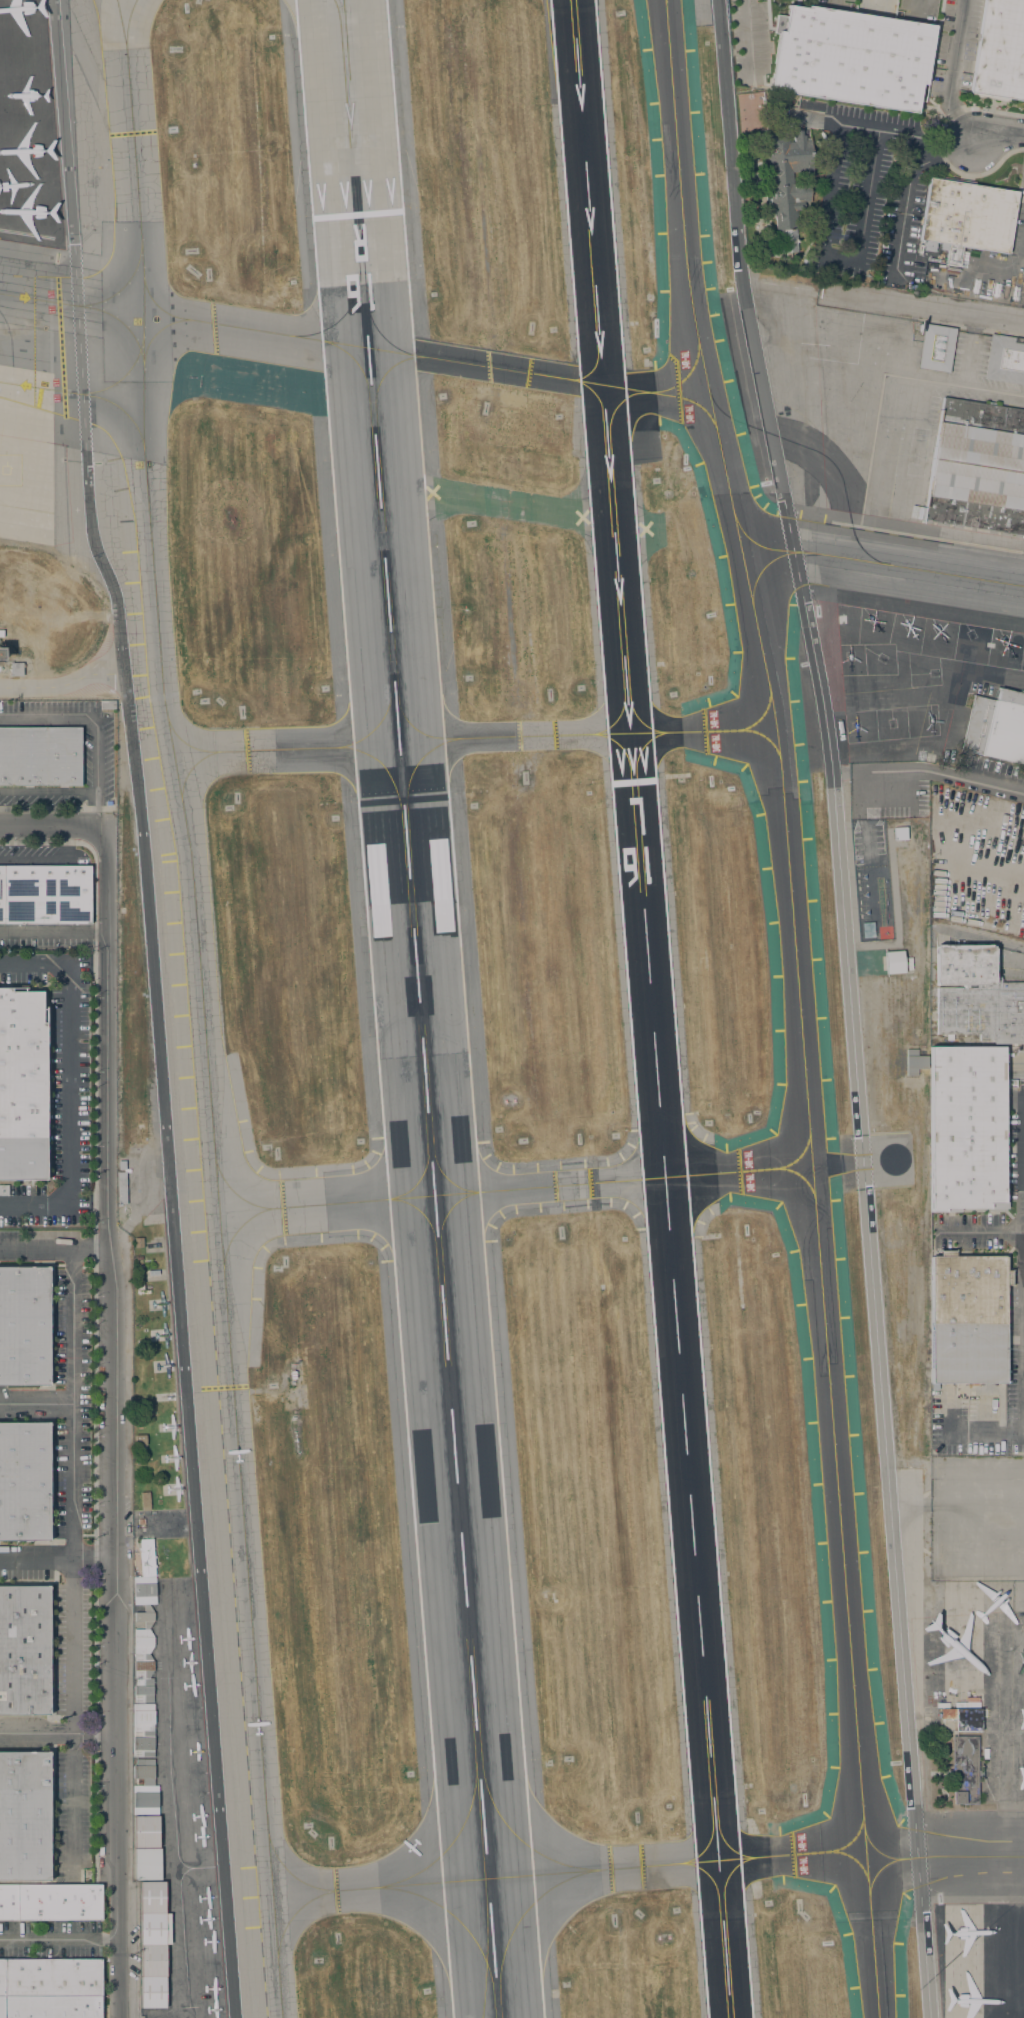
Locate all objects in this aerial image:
airport taxiway: (336, 13)
airport taxiway: (128, 25)
airport taxiway: (119, 26)
road: (744, 38)
building: (999, 52)
building: (851, 57)
road: (951, 76)
road: (989, 109)
road: (998, 134)
building: (787, 184)
building: (762, 201)
building: (966, 218)
airport taxiway: (119, 287)
airport taxiway: (156, 306)
airport taxiway: (348, 307)
airport taxiway: (83, 308)
road: (924, 309)
airport taxiway: (372, 325)
airport taxiway: (155, 332)
airport taxiway: (276, 333)
building: (936, 348)
airport taxiway: (595, 356)
building: (1005, 360)
airport taxiway: (358, 369)
airport taxiway: (603, 369)
airport taxiway: (549, 376)
airport taxiway: (685, 376)
airport taxiway: (379, 378)
airport taxiway: (69, 393)
airport taxiway: (597, 395)
airport taxiway: (623, 422)
airport hangar: (977, 468)
building: (977, 468)
helipad: (7, 474)
airport taxiway: (25, 513)
airport apron: (908, 528)
airport taxiway: (868, 561)
airport taxiway: (772, 572)
helipad: (841, 620)
helipad: (873, 626)
helipad: (905, 630)
helipad: (943, 635)
helipad: (989, 647)
building: (0, 654)
helipad: (881, 661)
helipad: (849, 663)
building: (16, 669)
helipad: (933, 675)
road: (63, 686)
building: (107, 705)
airport taxiway: (755, 714)
airport taxiway: (783, 717)
airport taxiway: (635, 719)
helipad: (930, 721)
airport taxiway: (414, 725)
helipad: (892, 725)
road: (95, 727)
building: (996, 727)
helipad: (857, 728)
airport taxiway: (369, 730)
airport taxiway: (728, 730)
airport taxiway: (515, 738)
airport taxiway: (763, 741)
airport taxiway: (790, 743)
airport taxiway: (187, 747)
airport taxiway: (623, 748)
airport taxiway: (286, 750)
building: (40, 756)
road: (900, 770)
parking lot: (904, 802)
road: (57, 811)
road: (53, 827)
building: (898, 834)
parking lot: (867, 844)
road: (39, 863)
road: (870, 887)
building: (44, 894)
road: (894, 920)
road: (53, 937)
road: (980, 939)
building: (893, 963)
road: (53, 965)
parking lot: (23, 970)
building: (976, 996)
airport taxiway: (799, 1005)
road: (848, 1005)
road: (155, 1006)
airport runway: (418, 1008)
airport runway: (650, 1008)
airport: (514, 1009)
airport taxiway: (202, 1034)
building: (22, 1085)
parking lot: (68, 1086)
road: (69, 1086)
building: (966, 1129)
airport taxiway: (791, 1150)
road: (1023, 1156)
airport taxiway: (657, 1161)
airport taxiway: (670, 1164)
building: (121, 1165)
airport taxiway: (746, 1172)
airport taxiway: (444, 1177)
airport taxiway: (420, 1180)
airport taxiway: (548, 1187)
airport taxiway: (675, 1187)
building: (121, 1188)
airport taxiway: (656, 1189)
building: (4, 1190)
airport taxiway: (236, 1197)
airport taxiway: (353, 1203)
road: (52, 1206)
airport taxiway: (449, 1209)
airport taxiway: (419, 1211)
airport taxiway: (237, 1224)
road: (1014, 1231)
road: (975, 1232)
building: (139, 1243)
road: (54, 1249)
building: (139, 1258)
building: (139, 1268)
building: (140, 1287)
road: (94, 1317)
building: (967, 1319)
building: (24, 1326)
building: (140, 1345)
building: (142, 1354)
road: (1023, 1398)
road: (36, 1406)
road: (983, 1418)
building: (139, 1421)
road: (114, 1425)
building: (140, 1439)
building: (24, 1481)
building: (145, 1501)
building: (140, 1521)
road: (57, 1559)
road: (73, 1561)
road: (1022, 1588)
building: (144, 1624)
building: (24, 1650)
building: (960, 1719)
building: (143, 1730)
road: (58, 1735)
building: (964, 1770)
building: (143, 1787)
building: (24, 1816)
building: (146, 1831)
airport taxiway: (509, 1834)
airport taxiway: (456, 1837)
airport taxiway: (721, 1838)
airport taxiway: (708, 1839)
airport taxiway: (846, 1839)
airport taxiway: (885, 1845)
airport taxiway: (790, 1855)
airport taxiway: (944, 1858)
building: (147, 1864)
airport taxiway: (602, 1871)
airport taxiway: (852, 1874)
airport taxiway: (888, 1875)
airport taxiway: (726, 1882)
airport taxiway: (709, 1883)
airport taxiway: (305, 1885)
airport taxiway: (359, 1890)
building: (50, 1902)
airport taxiway: (524, 1913)
airport taxiway: (456, 1918)
road: (59, 1941)
building: (153, 1945)
airport taxiway: (486, 1956)
building: (50, 1988)

